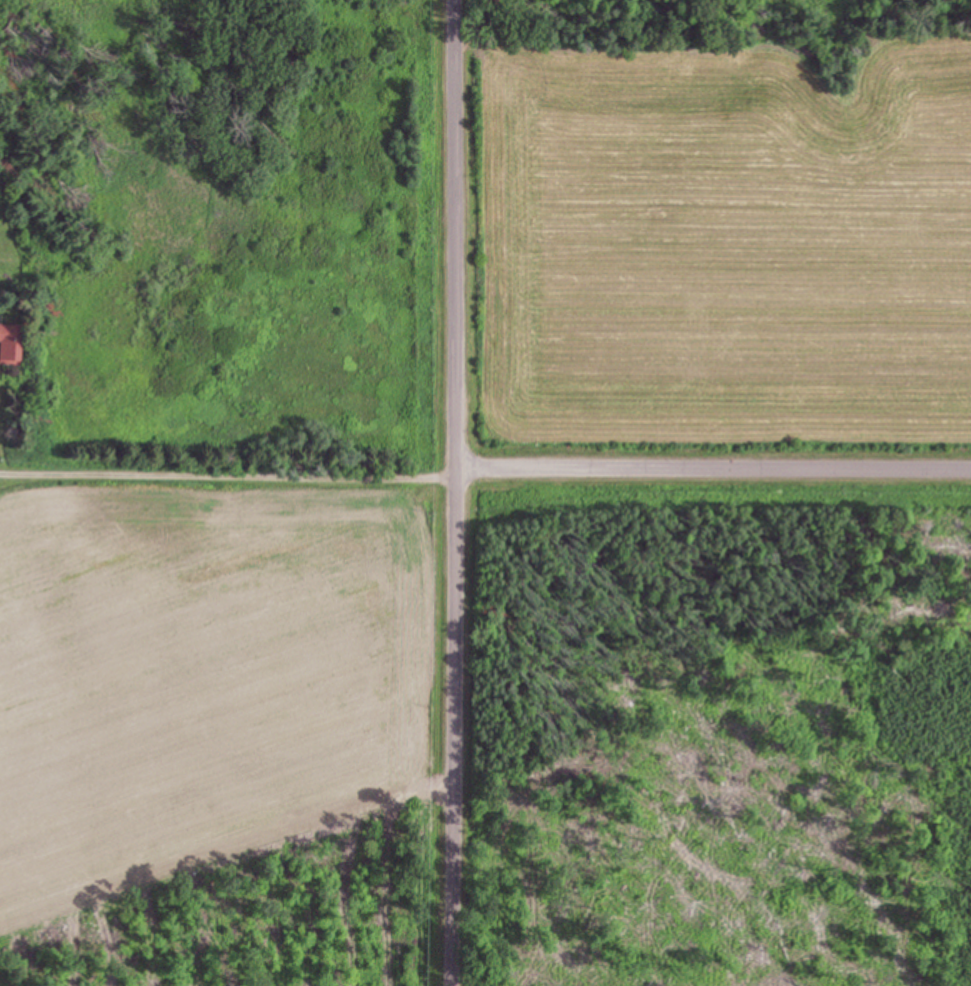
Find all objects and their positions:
road: (228, 481)
road: (714, 486)
road: (456, 492)

